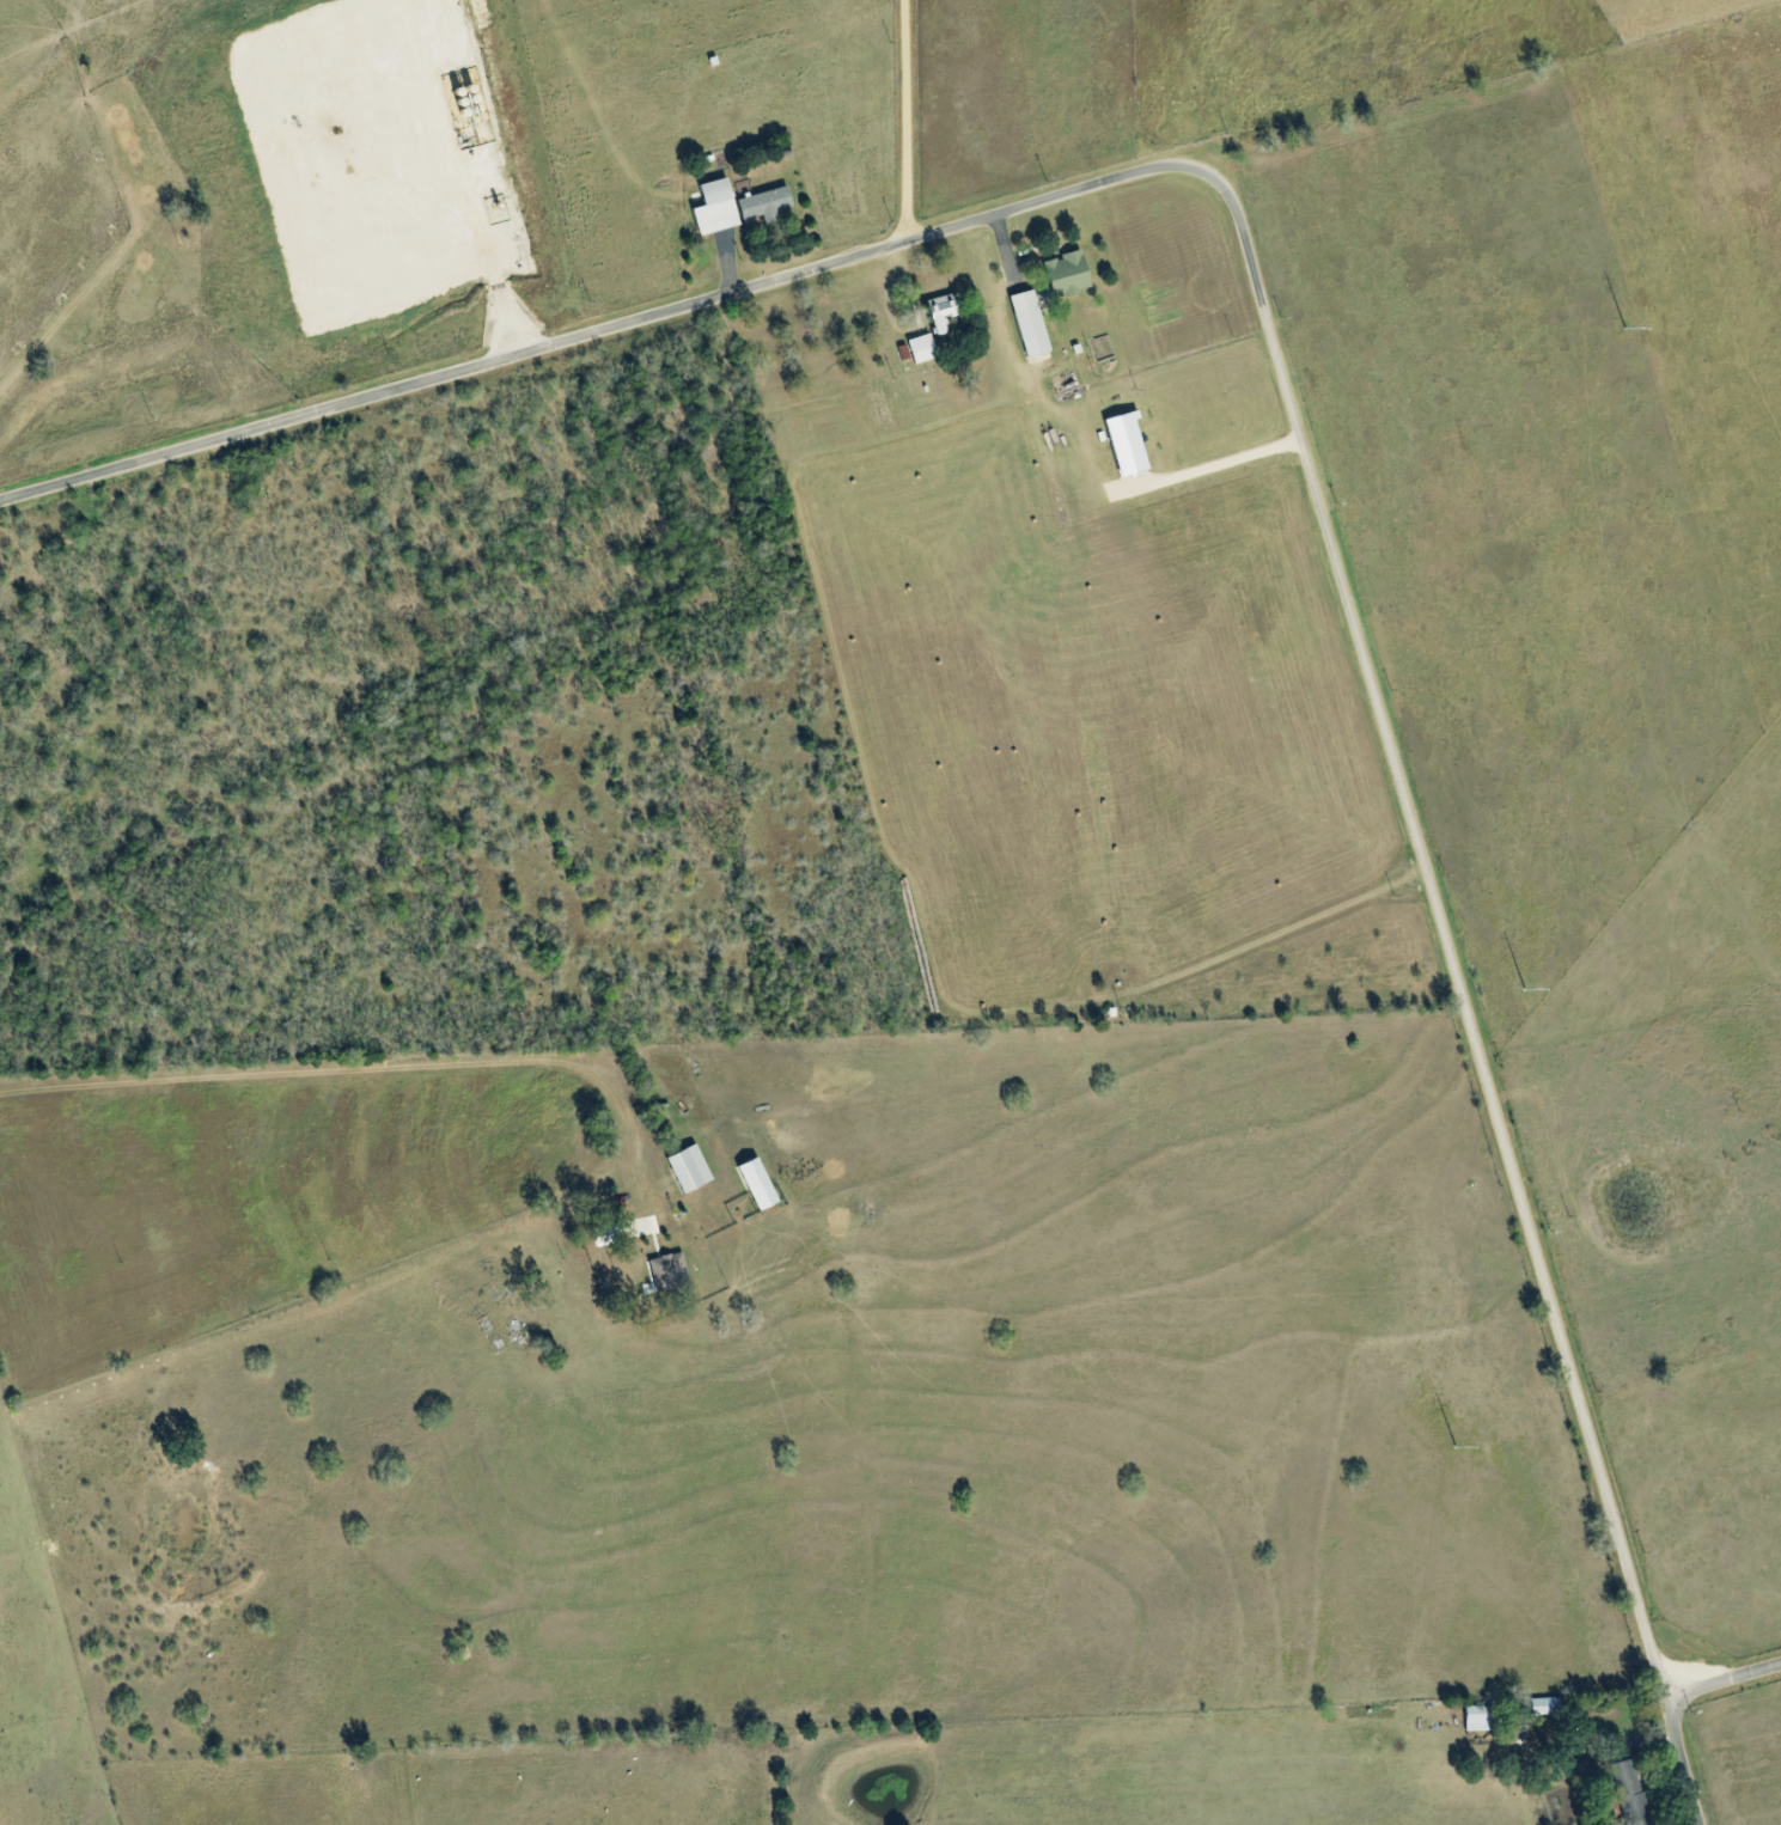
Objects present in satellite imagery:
building: (761, 205)
building: (710, 208)
building: (1063, 274)
road: (505, 313)
building: (938, 313)
building: (1026, 323)
power tower: (1624, 329)
road: (565, 340)
building: (919, 348)
building: (1122, 444)
road: (1401, 785)
power tower: (1524, 990)
road: (374, 1069)
building: (685, 1168)
building: (754, 1183)
building: (623, 1232)
building: (666, 1271)
power tower: (1454, 1447)
building: (1542, 1705)
road: (1676, 1709)
building: (1478, 1719)
building: (1628, 1793)

